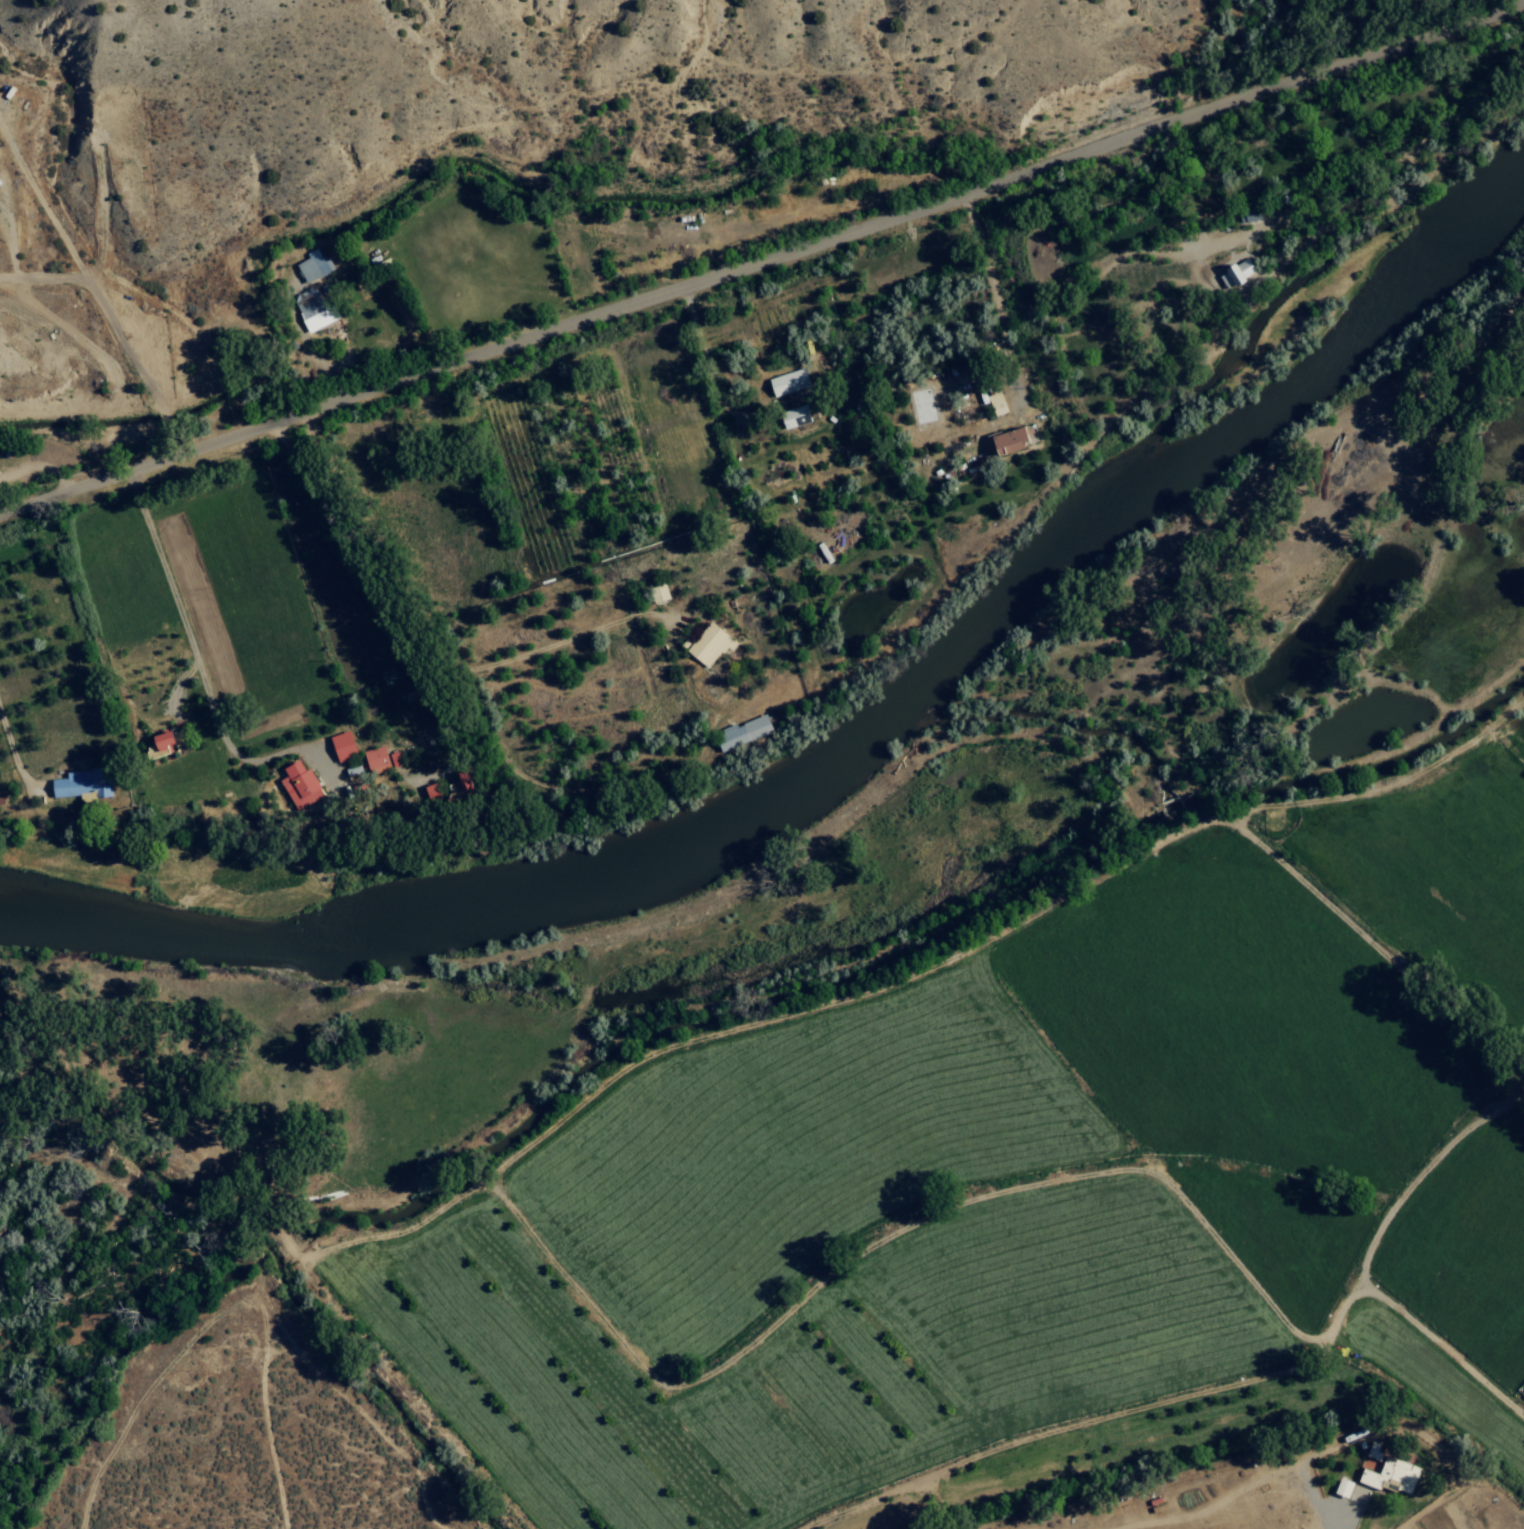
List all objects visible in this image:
road: (1104, 68)
building: (1245, 214)
road: (762, 261)
building: (310, 266)
building: (1233, 272)
building: (312, 314)
building: (785, 382)
building: (992, 401)
building: (790, 417)
building: (1003, 441)
building: (655, 592)
building: (706, 644)
building: (738, 732)
building: (153, 740)
building: (338, 743)
building: (372, 759)
building: (78, 784)
building: (295, 784)
river: (852, 786)
building: (427, 793)
building: (1387, 1475)
building: (1339, 1487)
road: (1429, 1503)
road: (346, 1504)

